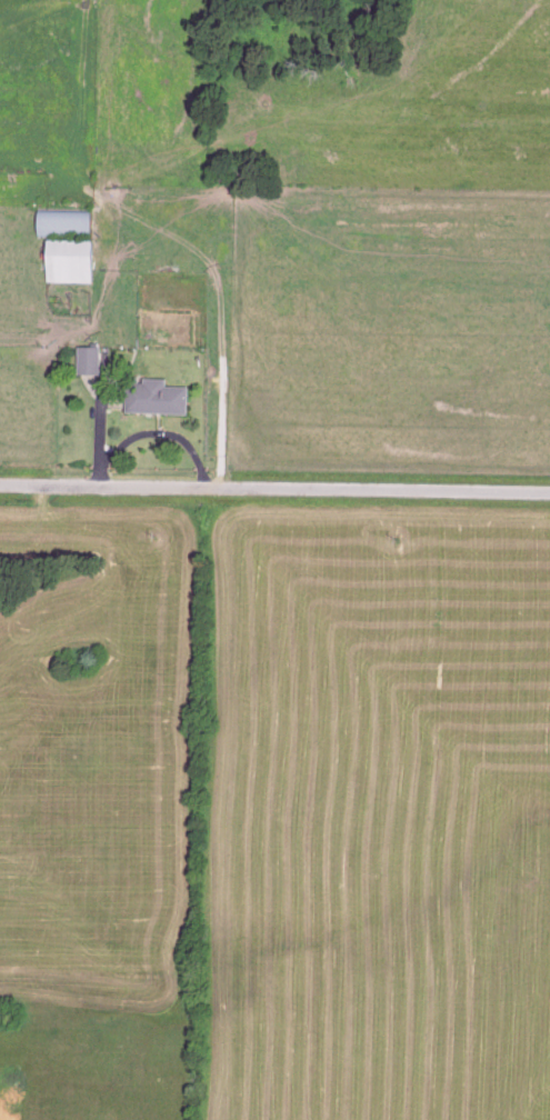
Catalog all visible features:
building: (67, 228)
building: (72, 268)
building: (90, 364)
building: (153, 402)
road: (101, 430)
road: (150, 438)
road: (274, 488)

